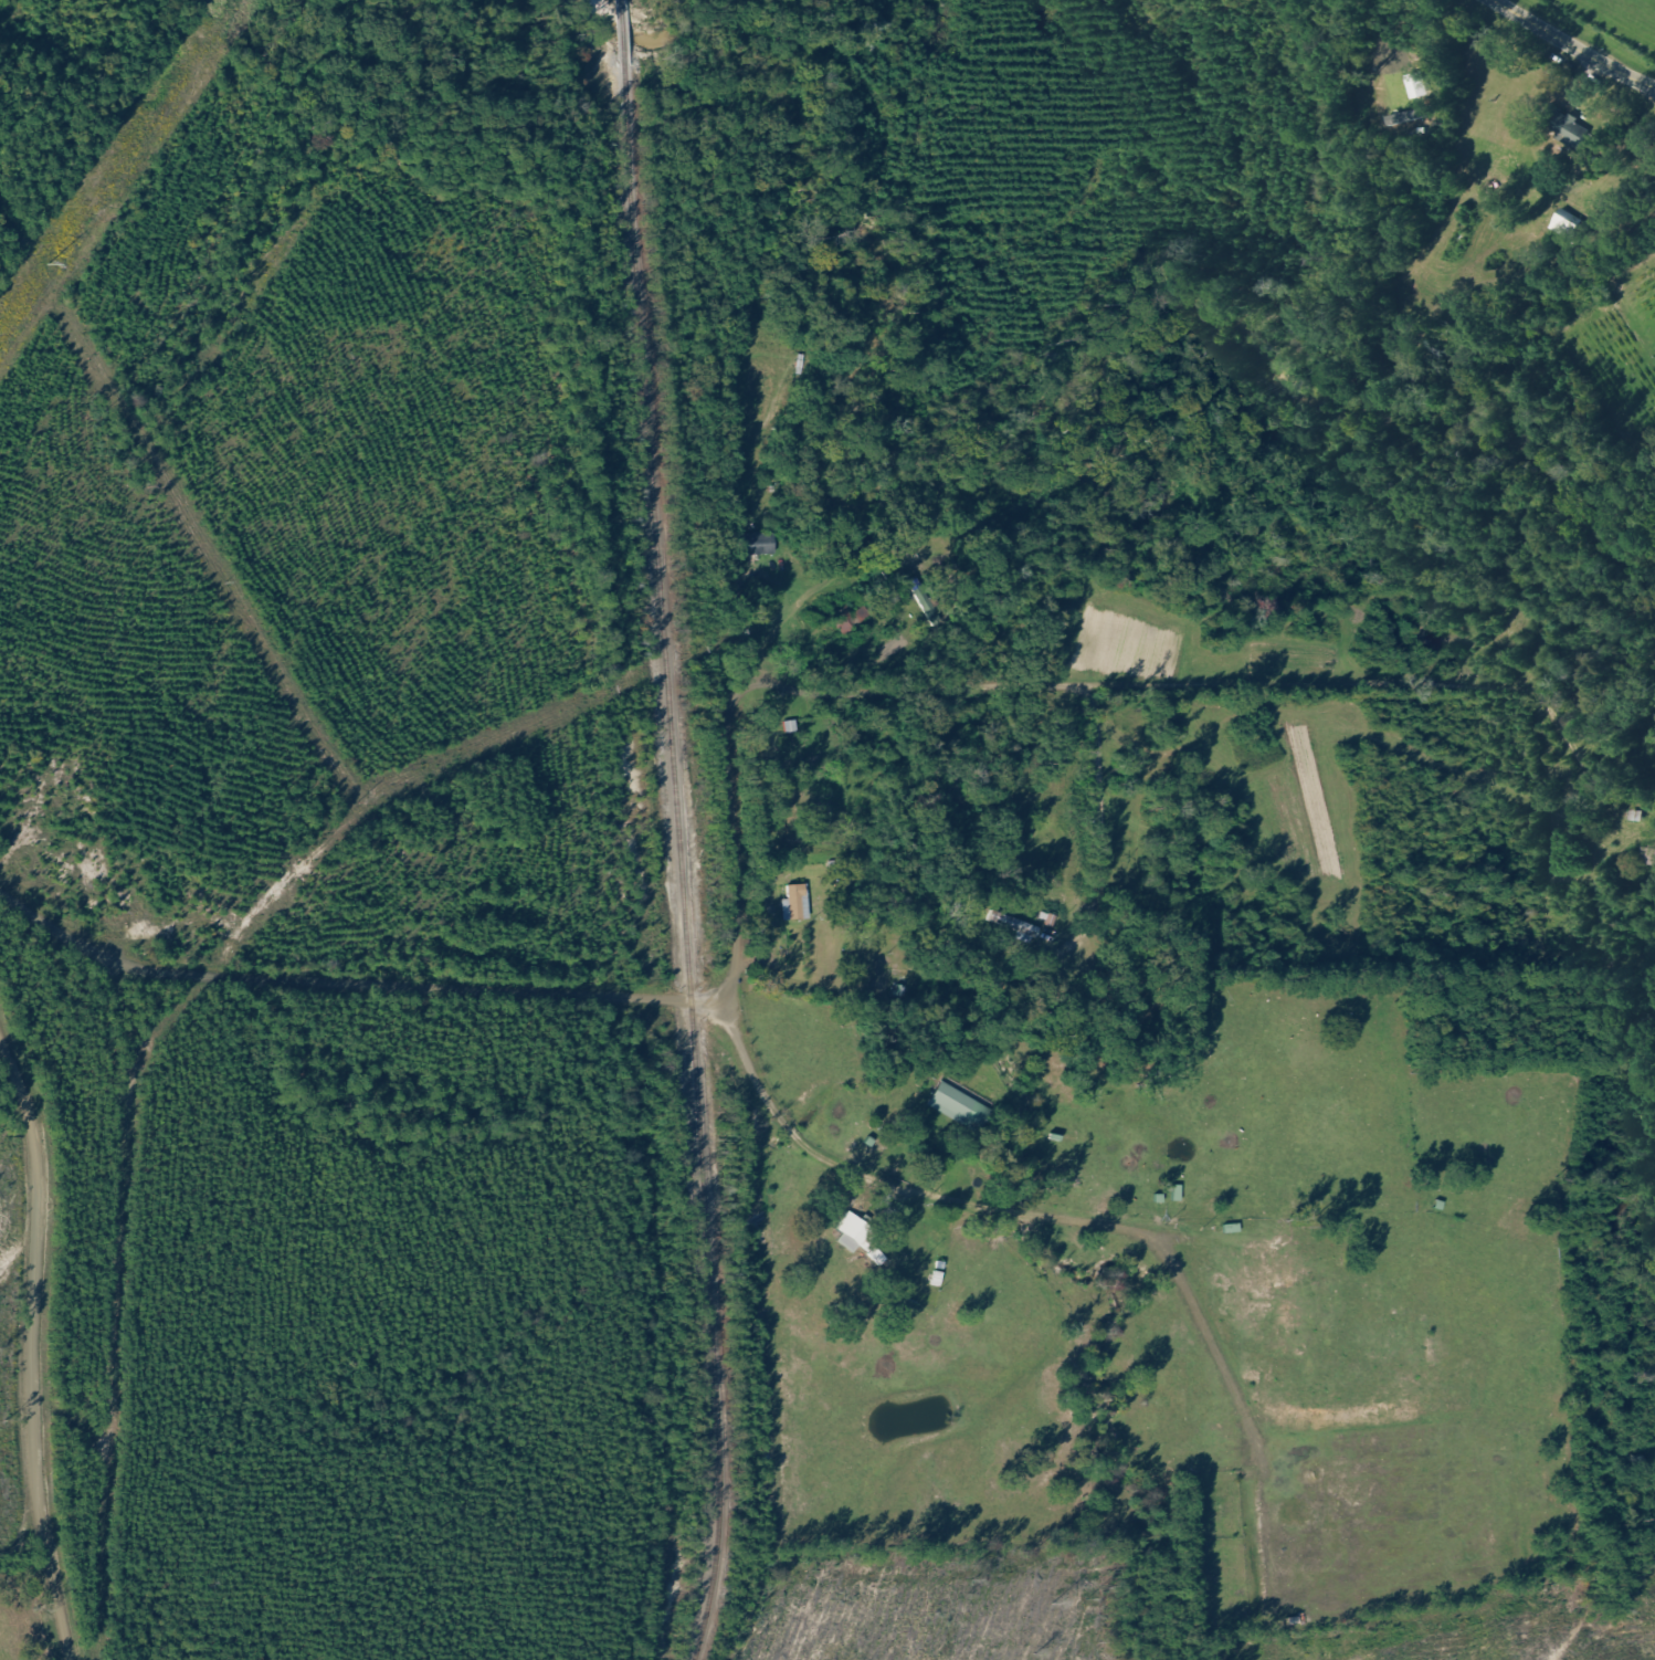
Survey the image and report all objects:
road: (1571, 46)
building: (1416, 85)
building: (1562, 125)
building: (1564, 223)
building: (761, 544)
road: (741, 777)
railway: (678, 830)
building: (798, 903)
building: (1021, 928)
building: (961, 1107)
road: (789, 1131)
building: (851, 1243)
road: (36, 1349)

